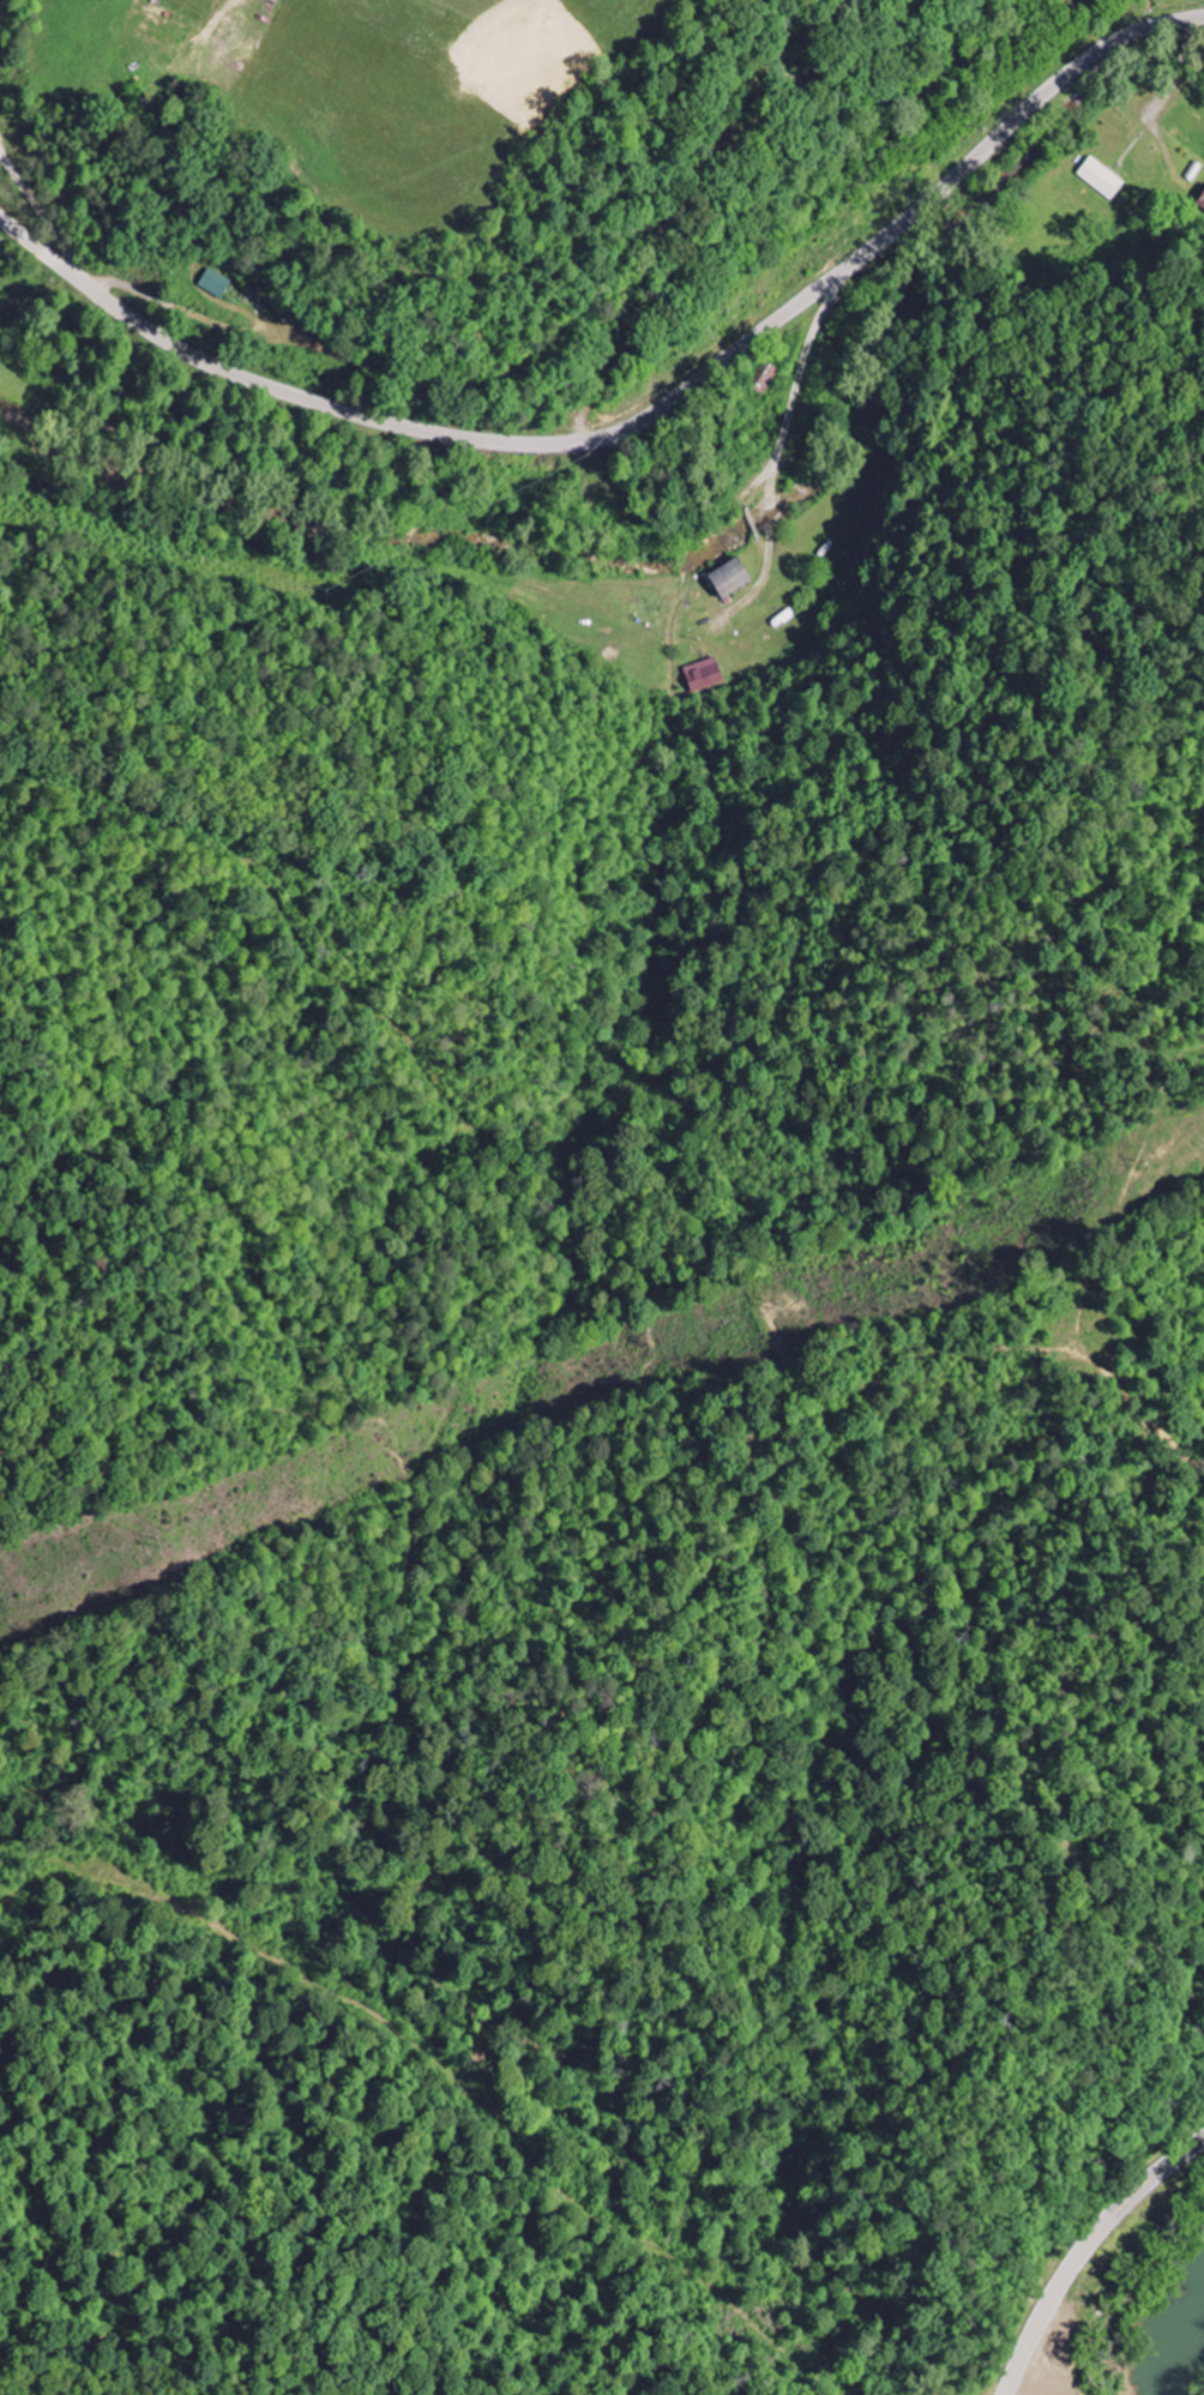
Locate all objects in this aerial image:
building: (1202, 199)
building: (218, 283)
road: (638, 421)
building: (739, 577)
building: (704, 674)
road: (1085, 2251)
river: (1181, 2341)

